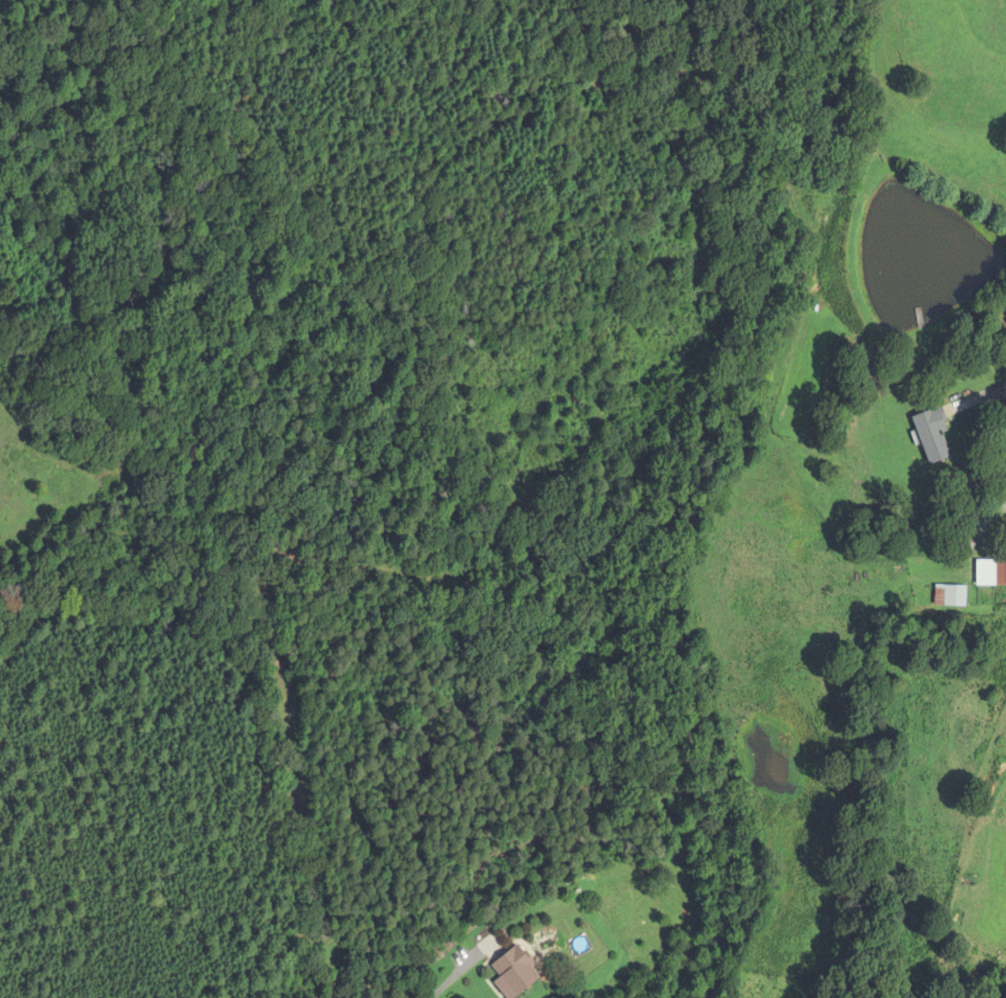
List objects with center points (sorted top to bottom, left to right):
road: (994, 389)
building: (932, 435)
building: (990, 573)
building: (949, 595)
building: (513, 973)
road: (444, 985)

